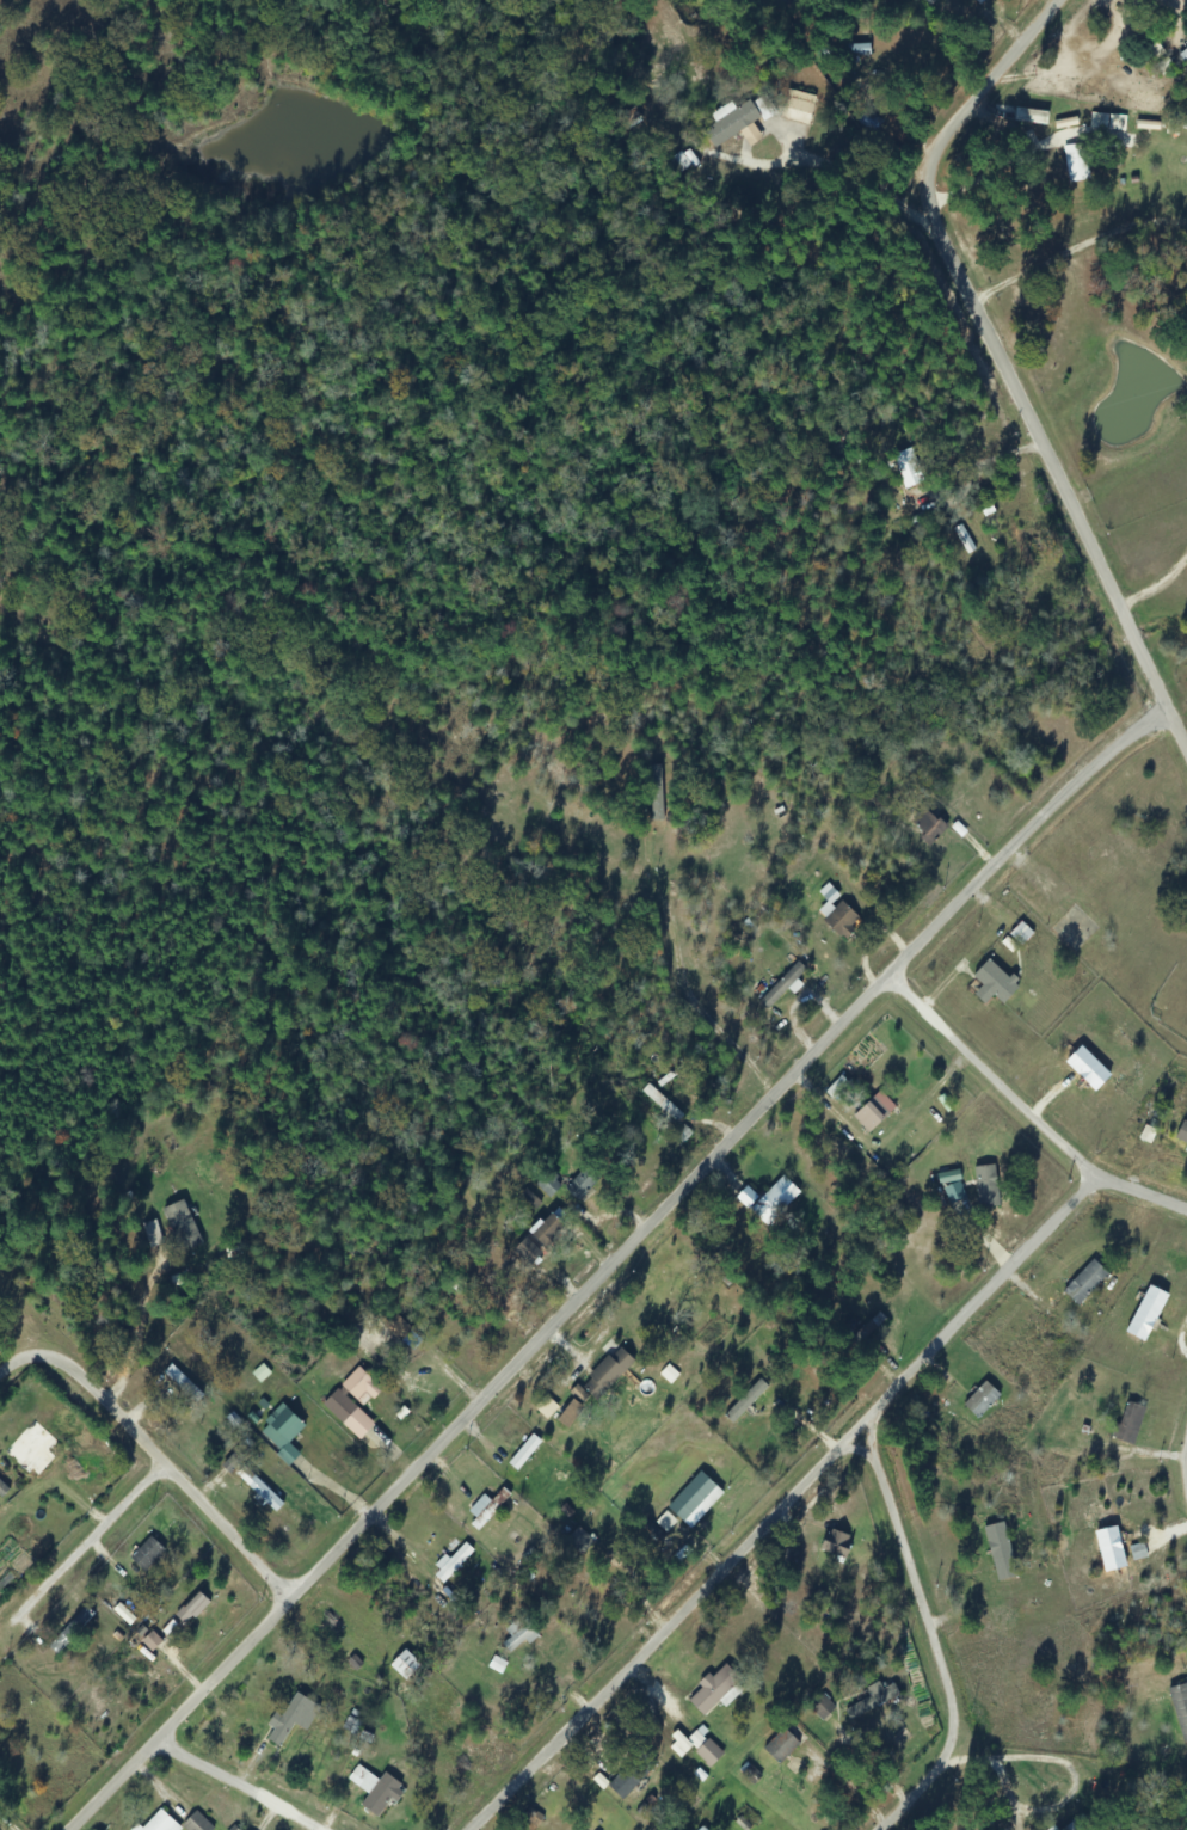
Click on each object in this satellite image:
building: (982, 2)
building: (855, 50)
building: (1183, 56)
building: (798, 111)
building: (734, 121)
building: (868, 122)
building: (683, 161)
building: (1076, 161)
road: (1001, 357)
building: (904, 469)
building: (1017, 538)
building: (654, 781)
building: (928, 827)
building: (841, 920)
building: (992, 983)
road: (1003, 1086)
building: (869, 1114)
building: (1181, 1134)
road: (734, 1155)
building: (582, 1184)
building: (984, 1186)
building: (744, 1197)
road: (1146, 1199)
building: (182, 1226)
building: (549, 1230)
building: (529, 1251)
building: (1088, 1260)
building: (1160, 1302)
building: (872, 1324)
building: (1026, 1341)
building: (182, 1382)
building: (979, 1400)
building: (352, 1402)
building: (1126, 1423)
building: (281, 1432)
road: (159, 1455)
building: (694, 1499)
road: (801, 1505)
building: (486, 1507)
building: (578, 1543)
building: (836, 1543)
road: (102, 1550)
building: (998, 1552)
building: (147, 1553)
building: (191, 1608)
building: (69, 1629)
building: (517, 1633)
road: (936, 1641)
building: (715, 1690)
building: (1179, 1706)
building: (291, 1718)
road: (196, 1719)
building: (780, 1744)
building: (706, 1750)
building: (632, 1776)
road: (242, 1789)
building: (375, 1789)
building: (159, 1823)
building: (196, 1823)
building: (701, 1829)

